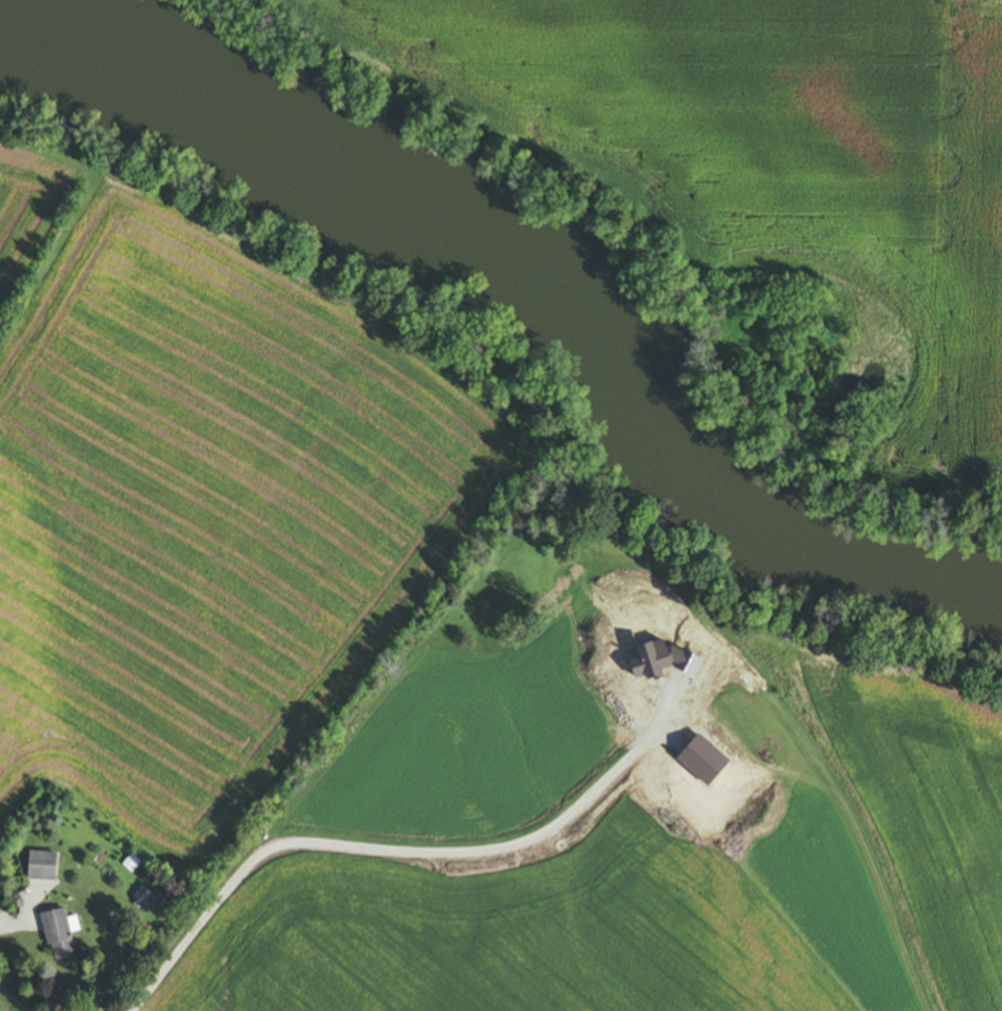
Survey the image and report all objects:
river: (522, 286)
building: (40, 869)
building: (146, 902)
road: (24, 919)
building: (57, 936)

